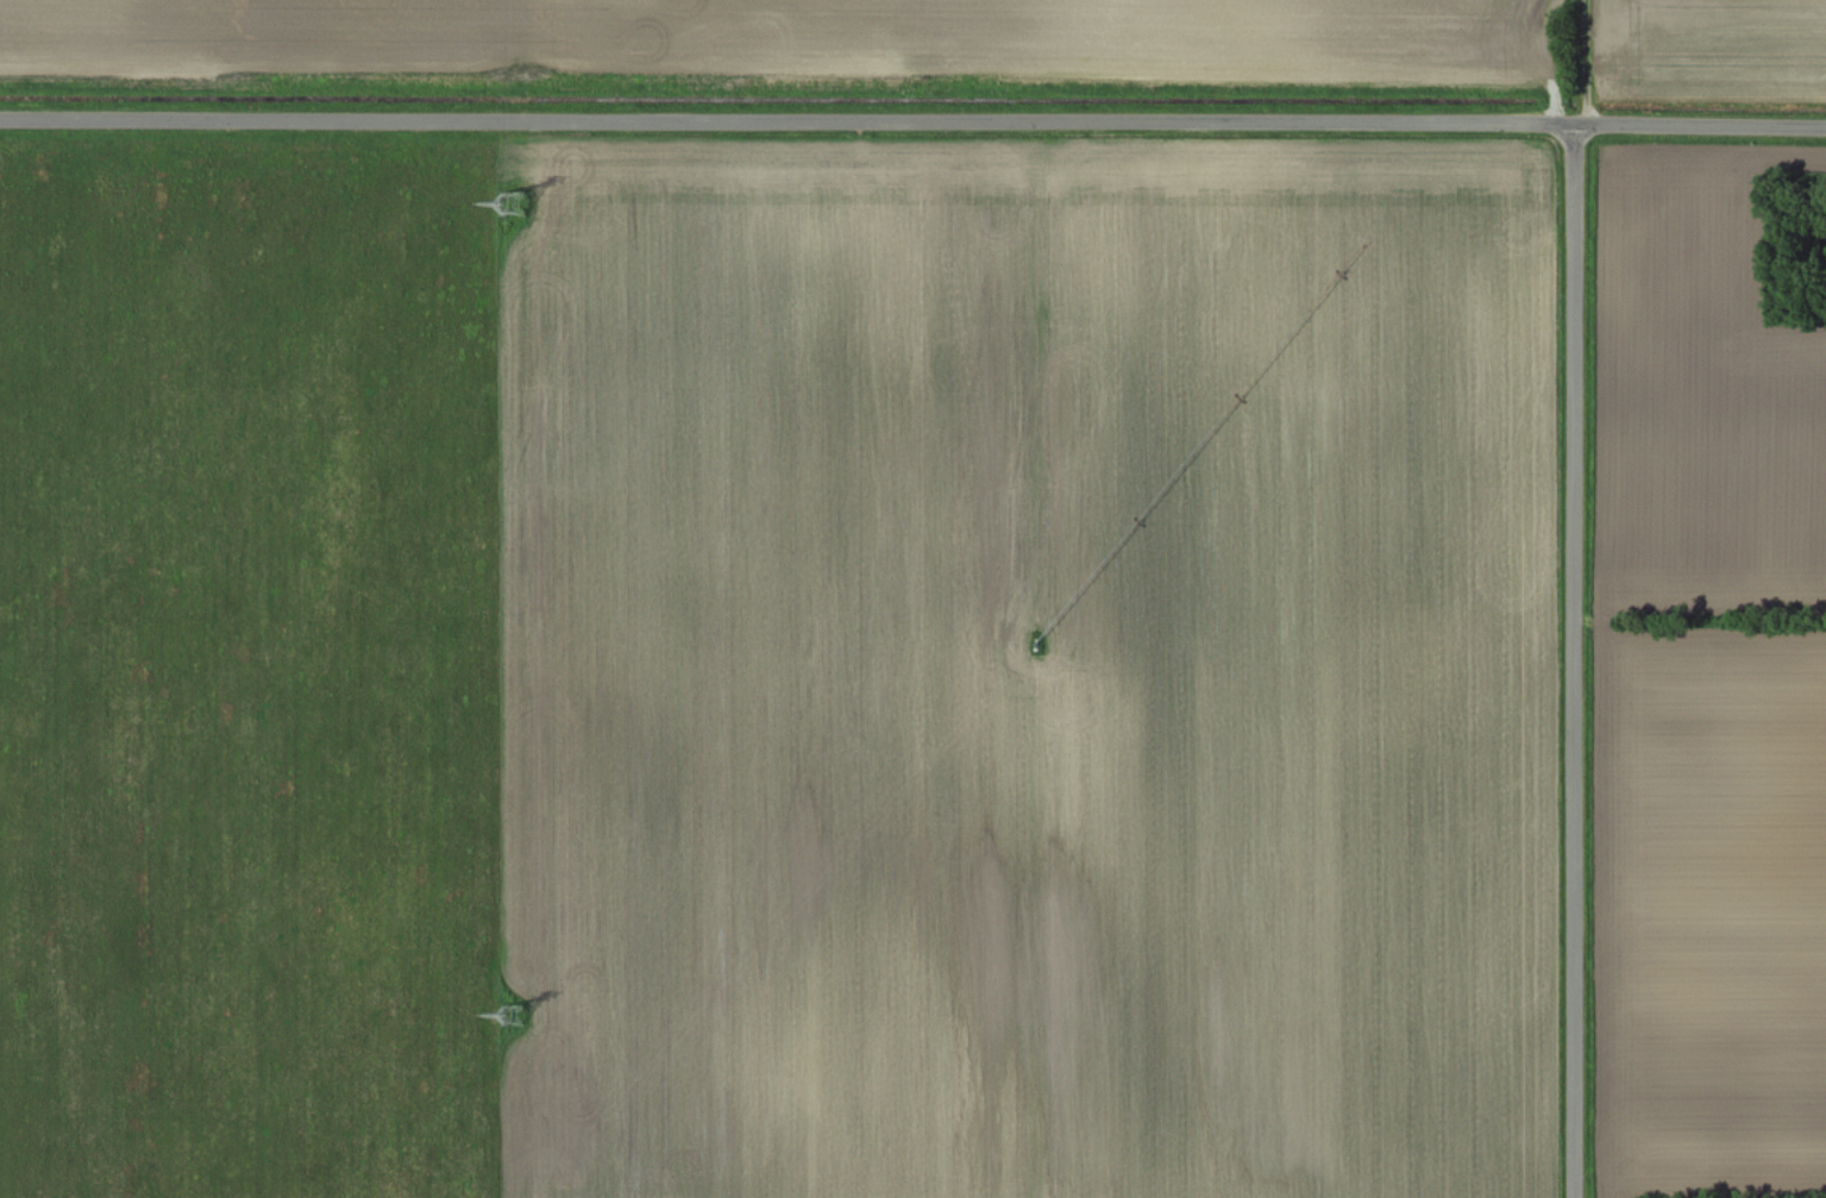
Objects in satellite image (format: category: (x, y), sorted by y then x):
road: (912, 117)
power tower: (520, 205)
road: (1575, 658)
power tower: (509, 1017)

